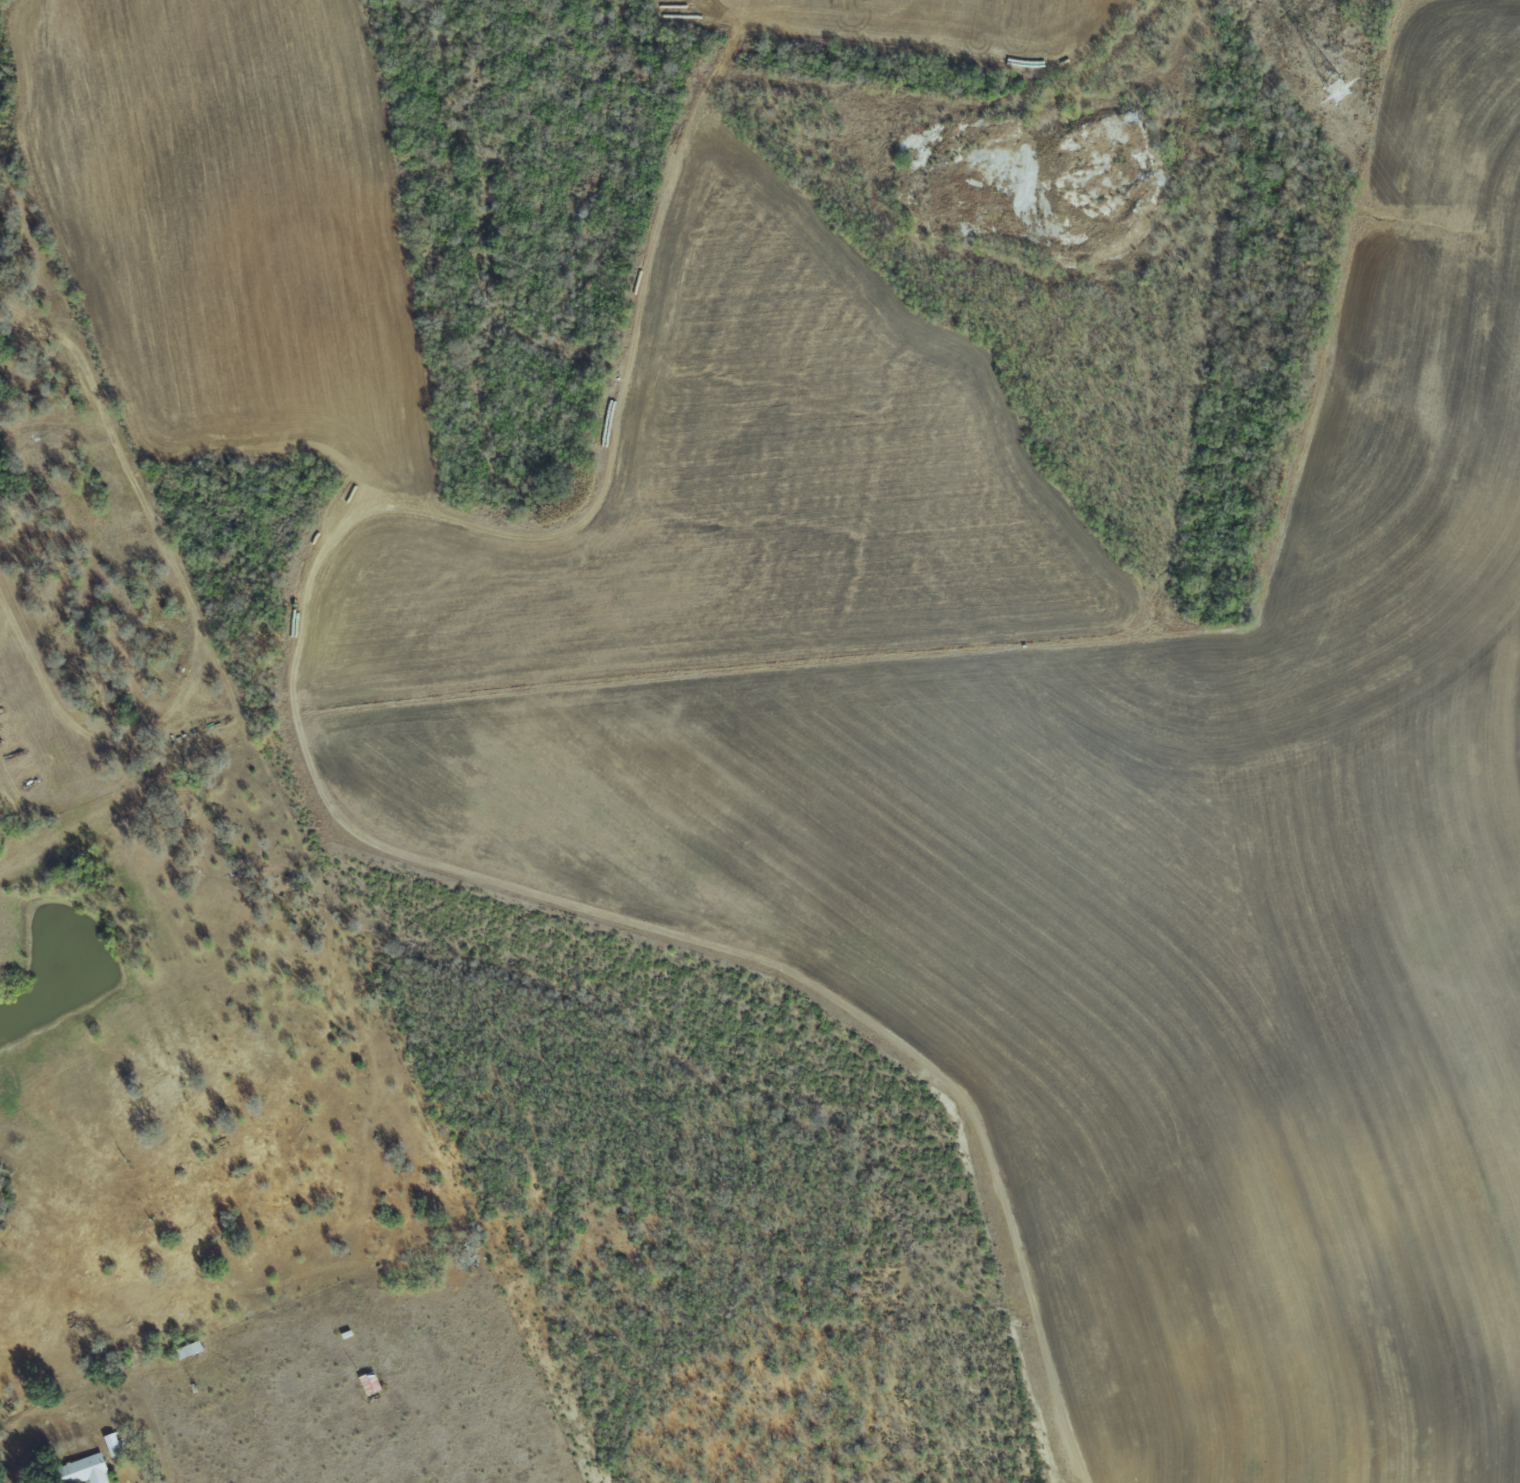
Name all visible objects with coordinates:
power tower: (1338, 90)
building: (113, 1445)
building: (88, 1470)

